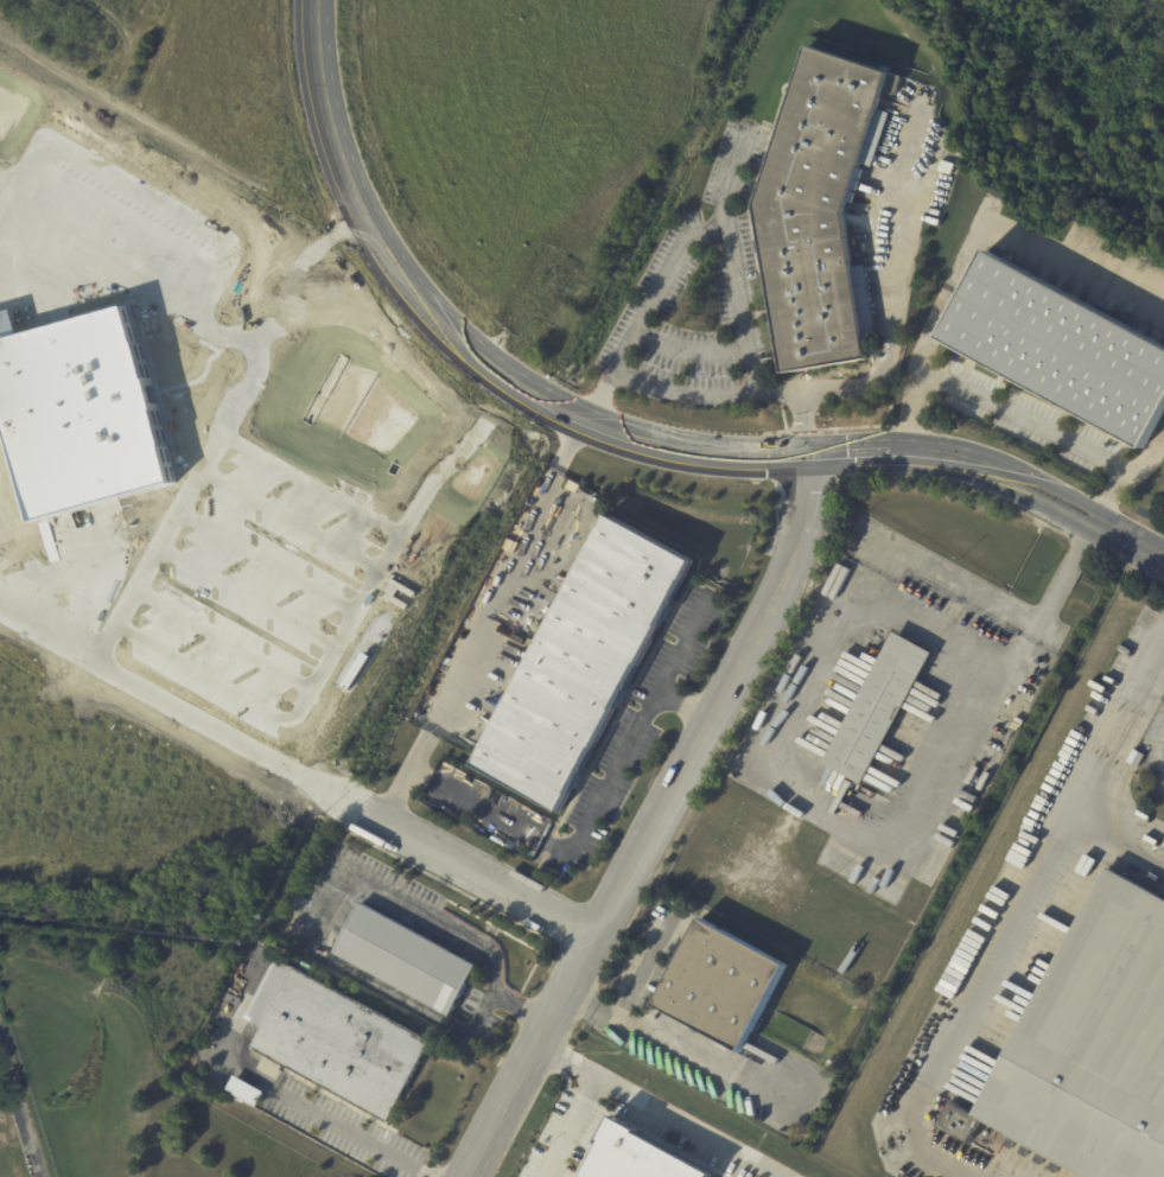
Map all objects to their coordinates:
building: (855, 185)
building: (821, 212)
road: (971, 244)
road: (896, 281)
road: (642, 311)
road: (743, 313)
road: (453, 342)
road: (688, 349)
building: (1061, 350)
road: (682, 393)
road: (1024, 414)
building: (82, 415)
road: (992, 469)
road: (1124, 472)
road: (498, 611)
road: (686, 645)
building: (584, 663)
building: (1009, 701)
building: (878, 708)
building: (1017, 723)
parking lot: (1153, 730)
road: (1160, 747)
building: (1136, 757)
road: (1103, 763)
parking lot: (1160, 781)
road: (397, 793)
road: (831, 817)
road: (650, 822)
road: (577, 845)
road: (465, 864)
road: (316, 936)
building: (406, 960)
building: (246, 968)
building: (720, 985)
road: (649, 1028)
building: (337, 1042)
building: (1089, 1046)
road: (291, 1107)
road: (660, 1108)
road: (18, 1109)
road: (568, 1126)
building: (637, 1156)
road: (783, 1176)

